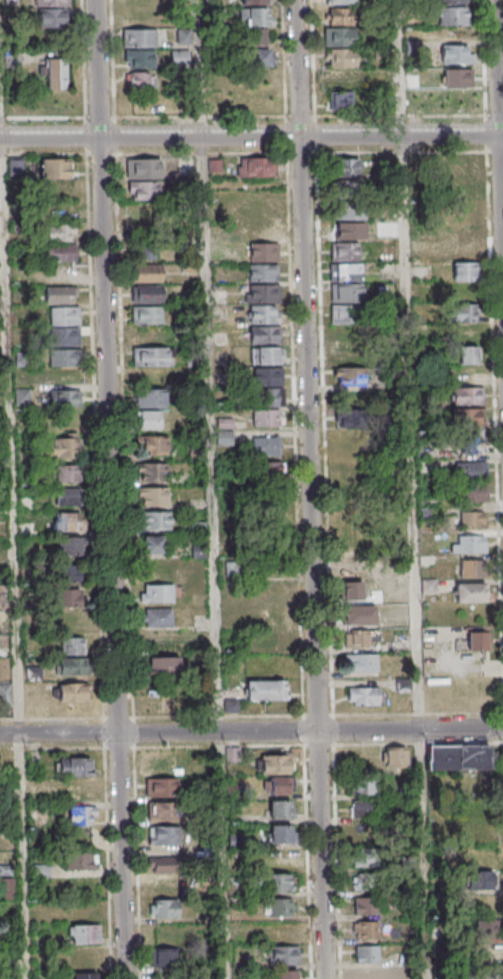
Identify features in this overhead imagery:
building: (452, 1)
building: (52, 2)
building: (255, 2)
building: (340, 2)
building: (339, 15)
building: (452, 15)
building: (52, 16)
building: (253, 16)
building: (183, 35)
building: (339, 35)
building: (253, 36)
building: (139, 37)
building: (456, 54)
building: (341, 56)
building: (179, 57)
building: (253, 57)
building: (140, 58)
road: (3, 68)
building: (56, 72)
road: (284, 76)
road: (313, 76)
building: (342, 77)
building: (457, 77)
building: (139, 79)
building: (255, 99)
building: (340, 100)
road: (251, 115)
road: (499, 119)
road: (251, 136)
road: (251, 152)
building: (256, 166)
building: (346, 167)
building: (143, 168)
building: (465, 168)
building: (55, 169)
building: (347, 187)
building: (143, 190)
building: (60, 211)
building: (60, 232)
building: (145, 246)
building: (463, 250)
building: (266, 252)
building: (347, 264)
building: (464, 270)
building: (147, 272)
building: (264, 273)
building: (62, 293)
building: (146, 293)
building: (462, 312)
building: (147, 314)
building: (468, 354)
building: (266, 355)
building: (150, 356)
road: (492, 356)
building: (62, 357)
building: (350, 367)
road: (92, 373)
road: (122, 373)
building: (267, 378)
building: (466, 395)
building: (64, 398)
building: (148, 398)
building: (466, 416)
building: (267, 418)
building: (150, 419)
building: (63, 420)
building: (355, 421)
building: (469, 441)
building: (154, 444)
building: (65, 446)
building: (265, 447)
building: (469, 469)
building: (268, 470)
building: (153, 472)
building: (68, 473)
road: (109, 489)
road: (213, 489)
road: (313, 489)
road: (414, 489)
building: (471, 493)
building: (67, 496)
building: (154, 496)
building: (354, 517)
building: (471, 519)
building: (156, 520)
building: (69, 522)
building: (467, 543)
building: (152, 544)
building: (68, 546)
road: (17, 558)
road: (298, 565)
road: (327, 565)
building: (470, 568)
building: (156, 569)
building: (68, 573)
building: (361, 592)
building: (472, 592)
building: (156, 593)
building: (68, 596)
building: (360, 616)
building: (158, 620)
building: (70, 621)
building: (362, 639)
building: (274, 640)
building: (476, 640)
building: (71, 645)
building: (362, 663)
building: (70, 666)
building: (161, 667)
building: (265, 689)
building: (403, 691)
building: (72, 692)
building: (5, 694)
building: (363, 696)
road: (251, 715)
road: (251, 731)
road: (251, 745)
building: (395, 756)
building: (457, 757)
building: (276, 763)
building: (162, 766)
building: (73, 767)
building: (280, 786)
building: (364, 786)
building: (165, 789)
building: (77, 791)
building: (280, 809)
building: (362, 809)
building: (167, 813)
building: (80, 816)
building: (279, 834)
building: (167, 836)
building: (79, 837)
building: (364, 859)
building: (81, 862)
road: (107, 862)
road: (136, 863)
building: (165, 867)
building: (41, 872)
building: (479, 880)
building: (277, 883)
building: (365, 884)
building: (166, 889)
building: (369, 907)
building: (279, 908)
building: (164, 909)
building: (485, 929)
building: (371, 931)
building: (83, 934)
building: (282, 955)
building: (369, 955)
building: (163, 959)
building: (482, 972)
building: (84, 975)
building: (290, 975)
building: (371, 975)

